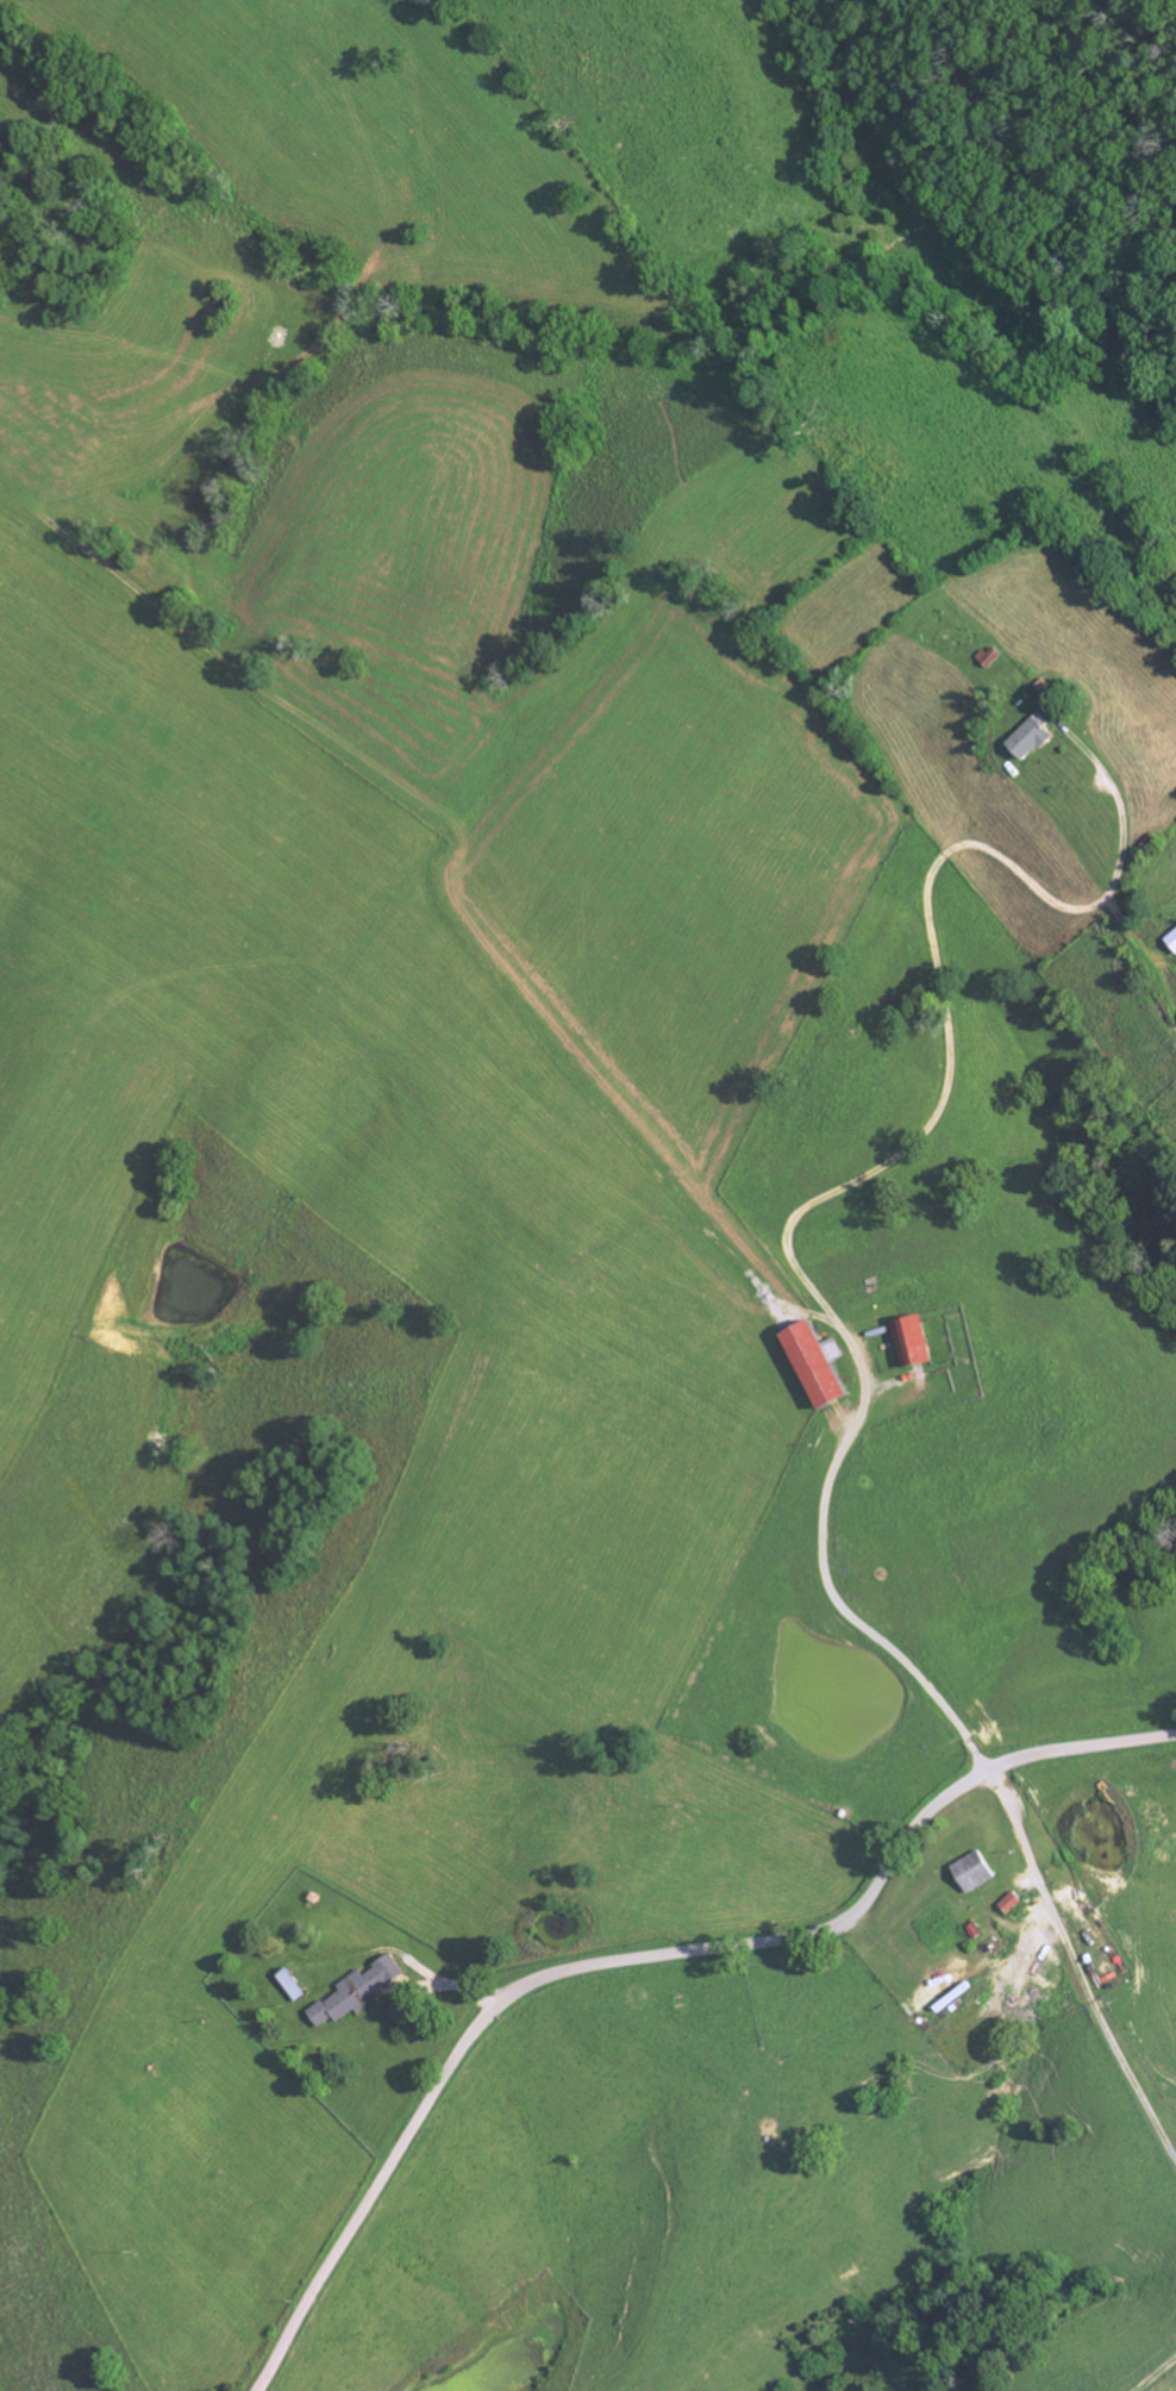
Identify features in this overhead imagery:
building: (1037, 738)
building: (1175, 937)
building: (922, 1343)
building: (830, 1367)
road: (832, 1577)
road: (280, 1619)
building: (981, 1872)
building: (1017, 1903)
road: (644, 1958)
building: (300, 1985)
building: (364, 1992)

